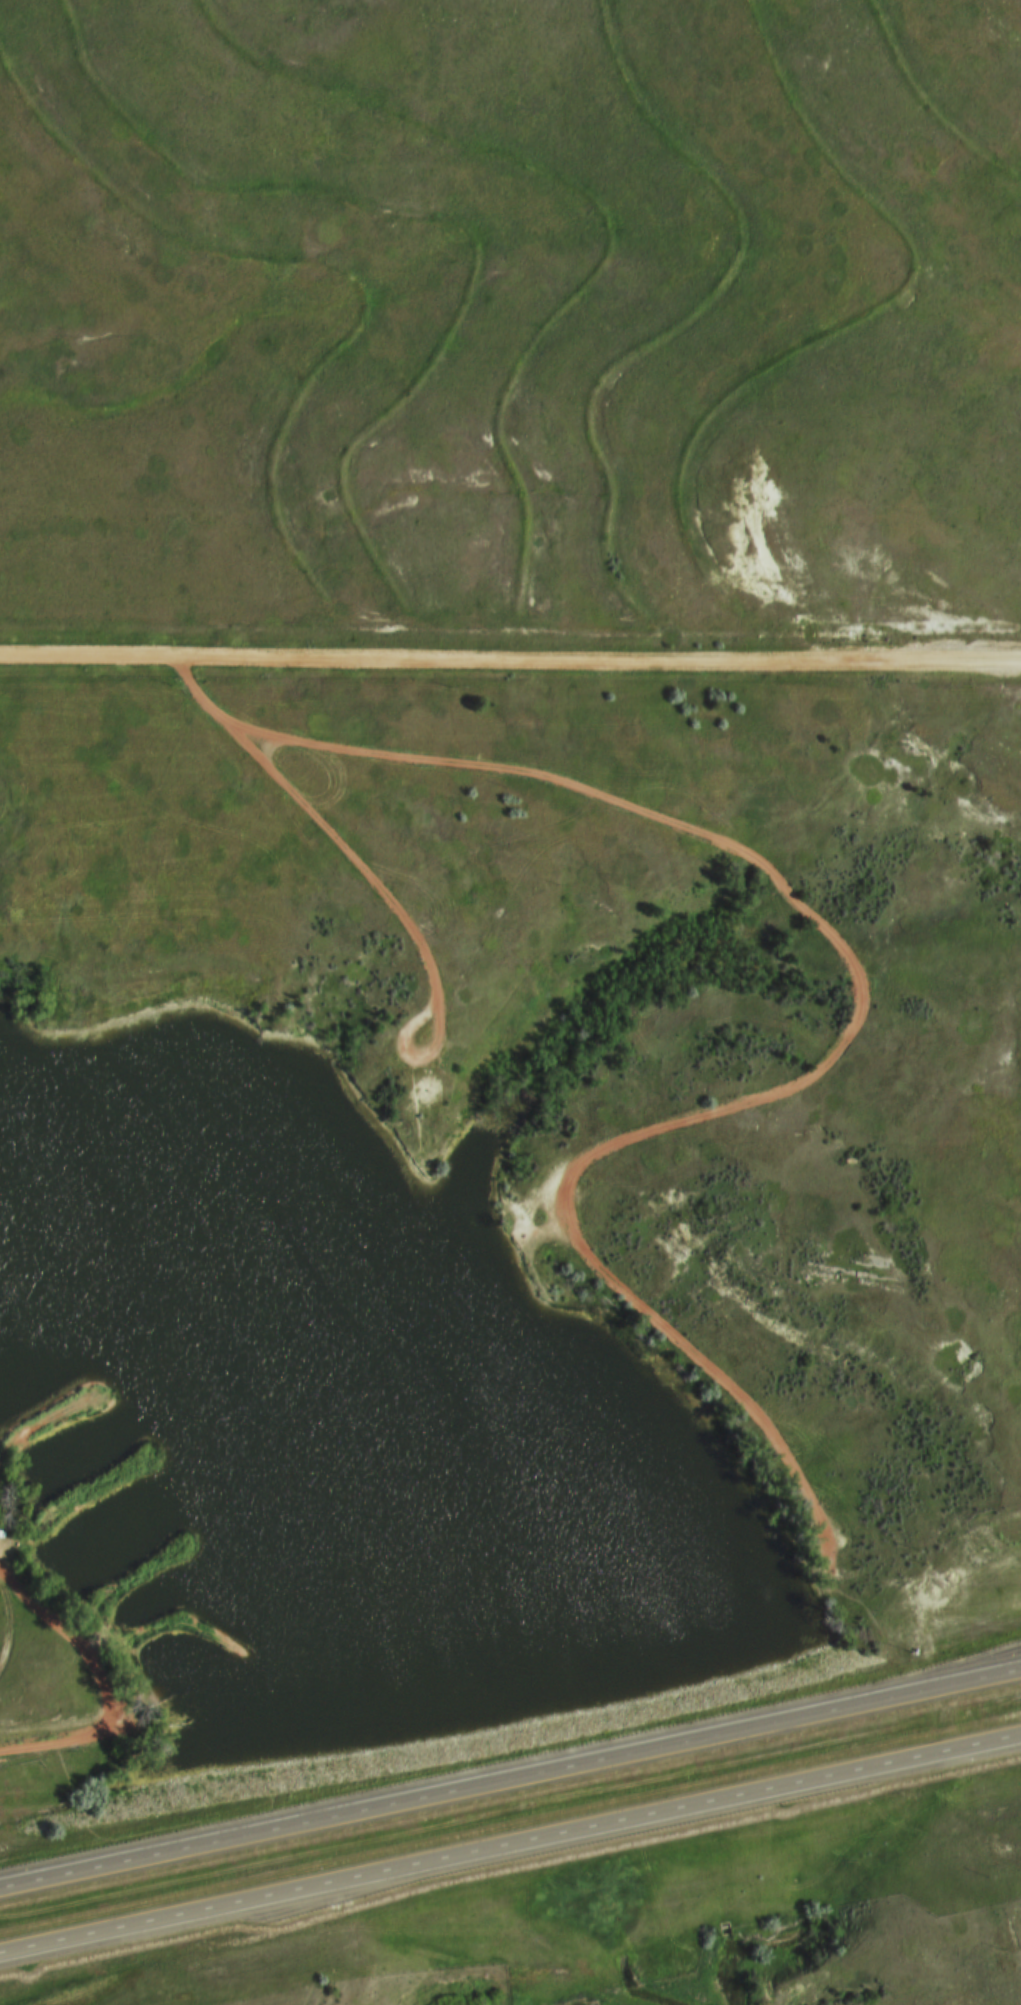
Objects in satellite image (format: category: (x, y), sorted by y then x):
road: (510, 665)
road: (373, 883)
road: (844, 1039)
road: (12, 1634)
road: (510, 1786)
road: (511, 1856)

